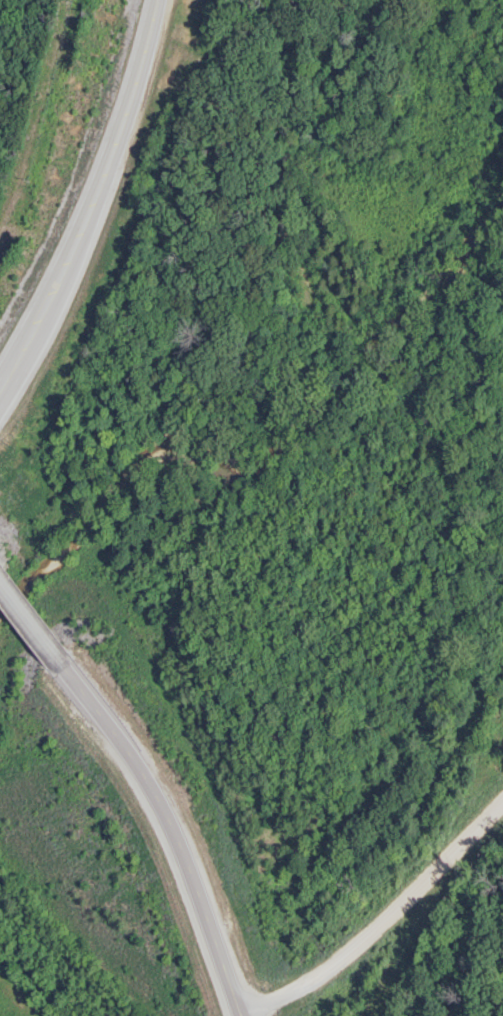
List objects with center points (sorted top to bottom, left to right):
road: (95, 201)
road: (152, 780)
road: (384, 921)

